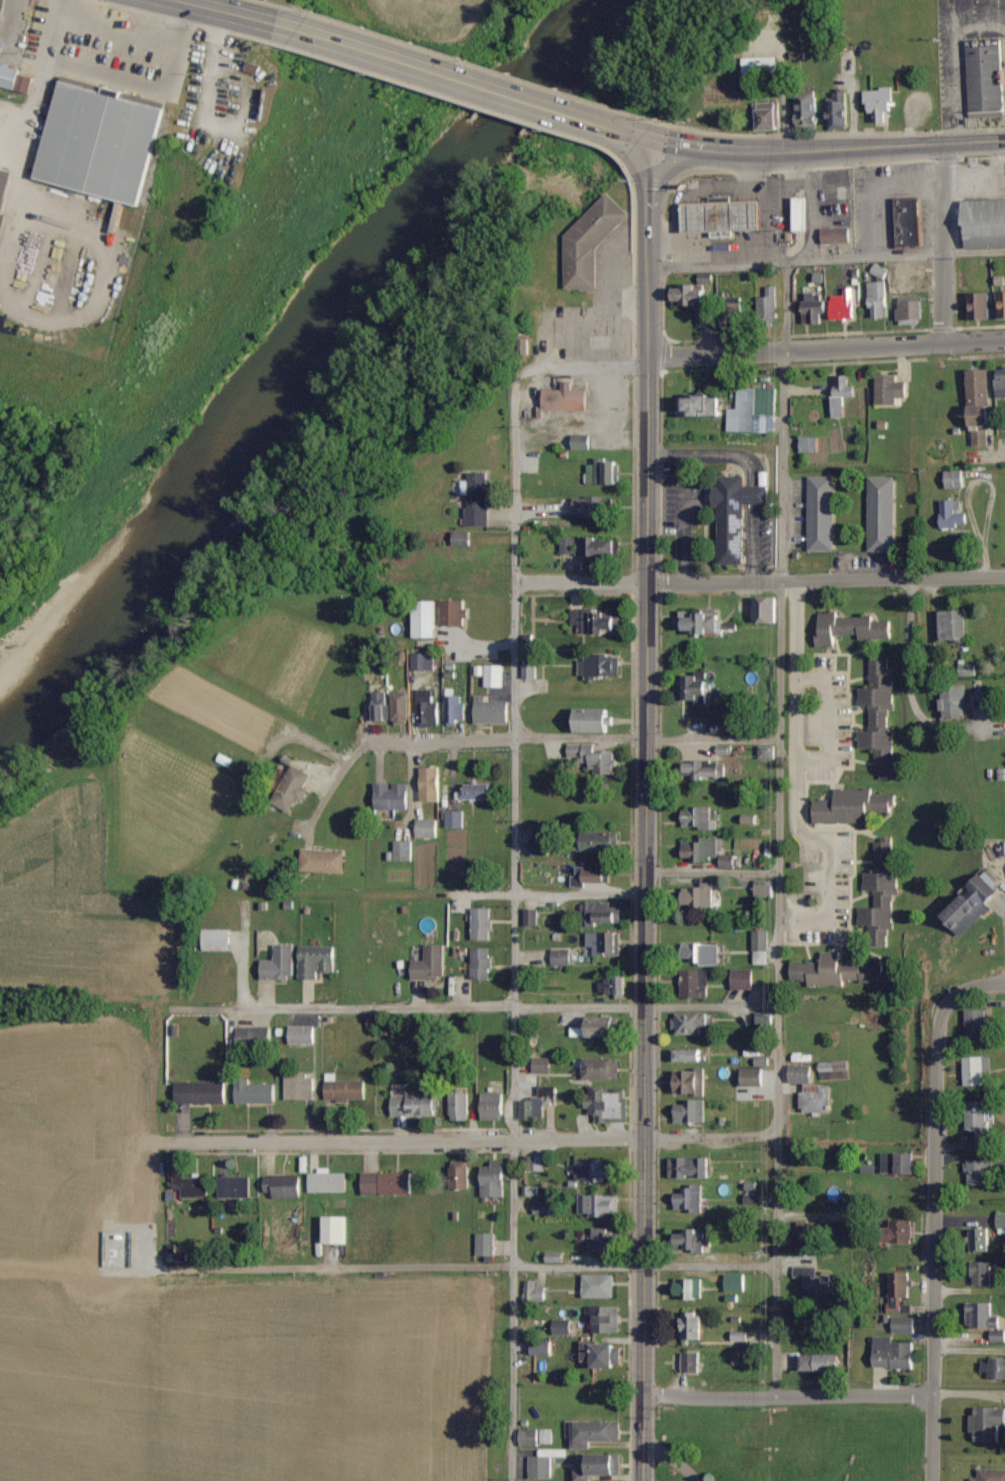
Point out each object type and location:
road: (227, 11)
road: (137, 40)
building: (759, 64)
road: (448, 75)
building: (985, 77)
building: (12, 81)
road: (32, 102)
building: (879, 102)
building: (807, 110)
building: (839, 110)
building: (768, 115)
road: (638, 135)
building: (104, 141)
traffic signals: (657, 141)
road: (682, 146)
road: (857, 146)
building: (4, 195)
building: (801, 213)
building: (726, 214)
gas station: (726, 214)
building: (909, 222)
building: (985, 223)
building: (836, 235)
building: (590, 241)
road: (941, 243)
road: (826, 258)
building: (46, 292)
building: (878, 299)
building: (769, 302)
building: (1001, 304)
building: (844, 305)
building: (978, 305)
building: (814, 307)
building: (910, 308)
building: (737, 314)
building: (708, 315)
road: (70, 318)
river: (309, 338)
road: (759, 353)
building: (1001, 382)
building: (979, 386)
building: (890, 389)
building: (843, 395)
building: (565, 399)
building: (700, 405)
building: (754, 410)
building: (981, 424)
building: (581, 442)
building: (810, 444)
road: (996, 457)
building: (605, 470)
road: (514, 475)
building: (955, 479)
building: (592, 507)
building: (822, 513)
building: (953, 513)
building: (881, 514)
building: (735, 515)
building: (462, 539)
building: (590, 546)
road: (759, 574)
building: (765, 609)
building: (454, 612)
building: (425, 619)
building: (595, 620)
building: (702, 622)
building: (954, 624)
building: (849, 628)
road: (481, 643)
road: (907, 654)
building: (423, 661)
building: (599, 666)
building: (968, 669)
building: (529, 670)
building: (494, 675)
building: (694, 689)
building: (954, 701)
building: (381, 706)
building: (401, 707)
building: (454, 707)
building: (429, 709)
building: (879, 717)
building: (594, 719)
road: (518, 738)
building: (767, 752)
building: (594, 757)
building: (706, 769)
road: (796, 778)
building: (430, 784)
building: (295, 788)
building: (477, 791)
building: (392, 797)
building: (851, 806)
road: (650, 810)
building: (699, 818)
building: (454, 819)
building: (427, 828)
building: (600, 842)
building: (540, 847)
building: (702, 849)
building: (403, 850)
building: (323, 861)
road: (715, 871)
road: (781, 873)
building: (591, 876)
building: (762, 892)
building: (881, 892)
road: (505, 893)
building: (697, 897)
building: (973, 904)
building: (604, 913)
building: (531, 917)
building: (482, 923)
building: (218, 940)
building: (605, 943)
building: (758, 950)
building: (701, 956)
building: (561, 957)
building: (317, 961)
building: (482, 963)
building: (280, 964)
building: (430, 964)
building: (834, 971)
building: (741, 981)
building: (613, 985)
building: (692, 985)
road: (967, 987)
road: (714, 1006)
road: (411, 1007)
building: (765, 1018)
building: (690, 1023)
building: (977, 1024)
building: (597, 1027)
road: (511, 1032)
building: (302, 1035)
building: (256, 1037)
building: (687, 1055)
building: (542, 1065)
building: (602, 1069)
building: (832, 1070)
building: (977, 1070)
building: (802, 1074)
building: (753, 1077)
building: (688, 1082)
building: (300, 1086)
building: (345, 1089)
building: (201, 1093)
building: (255, 1093)
building: (817, 1098)
building: (538, 1103)
building: (607, 1104)
building: (414, 1105)
building: (460, 1106)
building: (493, 1106)
building: (691, 1111)
building: (981, 1121)
road: (473, 1137)
building: (535, 1163)
building: (898, 1163)
building: (690, 1168)
building: (595, 1170)
building: (978, 1172)
building: (460, 1175)
building: (494, 1180)
building: (327, 1181)
building: (387, 1183)
building: (192, 1186)
building: (284, 1186)
building: (234, 1187)
building: (690, 1199)
building: (597, 1205)
building: (542, 1207)
building: (1001, 1223)
building: (336, 1230)
building: (808, 1230)
building: (902, 1231)
building: (980, 1240)
building: (604, 1241)
building: (692, 1241)
building: (486, 1244)
road: (934, 1245)
road: (473, 1264)
building: (982, 1273)
building: (813, 1281)
building: (736, 1283)
building: (599, 1286)
building: (689, 1289)
building: (534, 1292)
building: (901, 1293)
building: (984, 1318)
building: (606, 1320)
building: (904, 1324)
building: (692, 1326)
building: (563, 1327)
building: (541, 1348)
building: (892, 1353)
building: (600, 1354)
building: (692, 1362)
building: (819, 1362)
building: (994, 1369)
road: (789, 1394)
building: (987, 1423)
building: (595, 1433)
building: (546, 1436)
building: (529, 1437)
road: (674, 1459)
building: (544, 1463)
building: (599, 1467)
building: (990, 1475)

